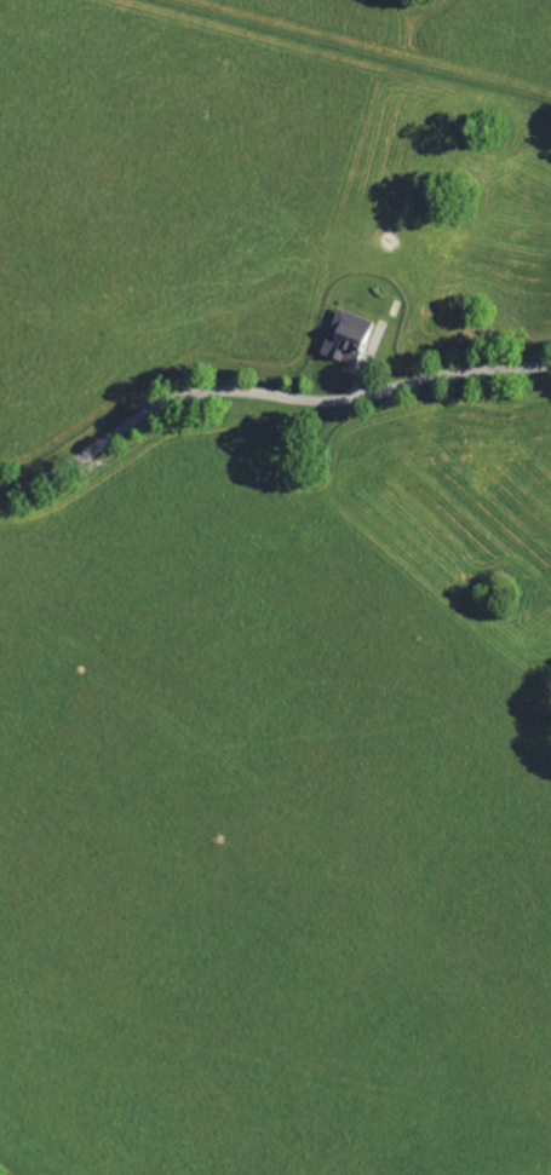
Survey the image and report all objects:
building: (344, 334)
road: (262, 411)

